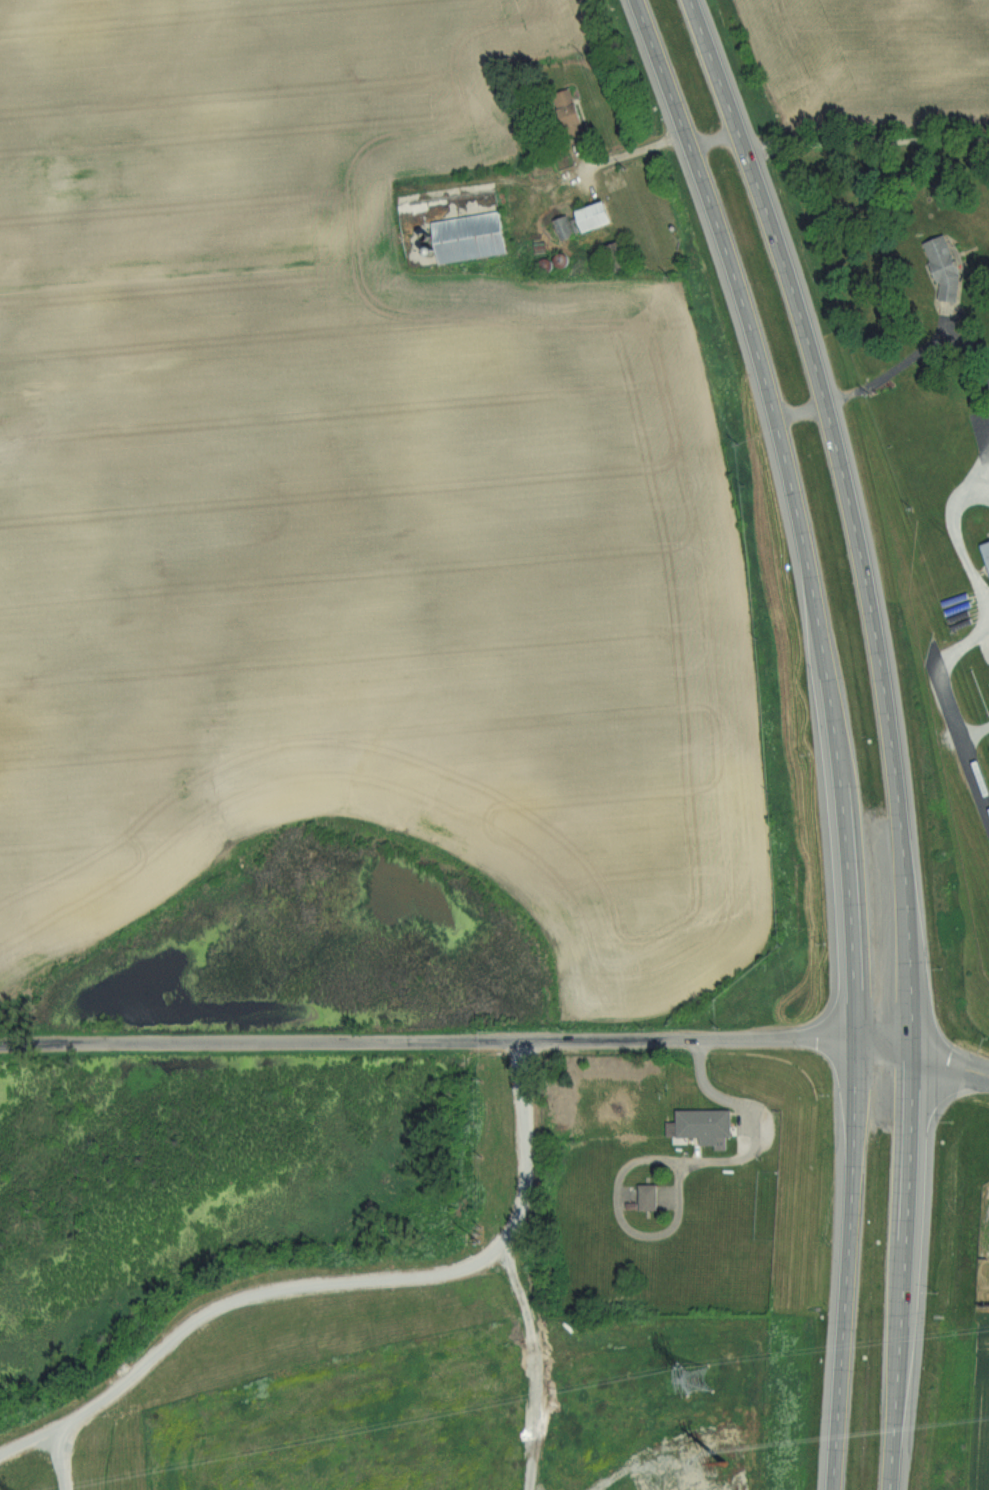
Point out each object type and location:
road: (731, 112)
road: (714, 139)
road: (863, 147)
road: (595, 161)
building: (601, 217)
building: (566, 227)
building: (472, 237)
building: (619, 256)
building: (948, 270)
road: (886, 376)
road: (980, 461)
road: (979, 486)
road: (794, 509)
road: (958, 541)
building: (987, 549)
road: (876, 632)
road: (967, 643)
road: (975, 731)
road: (962, 738)
road: (426, 1042)
road: (883, 1043)
road: (950, 1063)
building: (704, 1125)
road: (669, 1160)
building: (653, 1196)
parking lot: (984, 1217)
road: (846, 1265)
road: (903, 1270)
road: (371, 1285)
power tower: (698, 1380)
road: (32, 1444)
road: (58, 1459)
power tower: (721, 1460)

